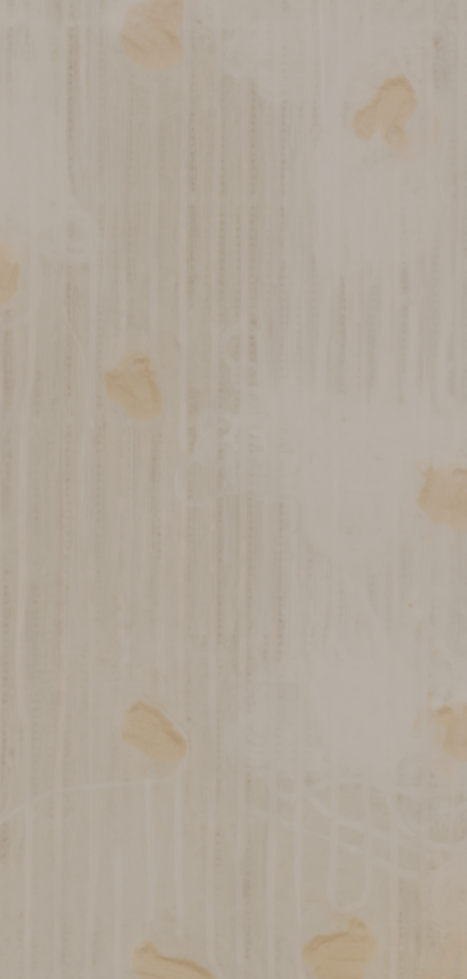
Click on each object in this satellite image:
road: (233, 962)

